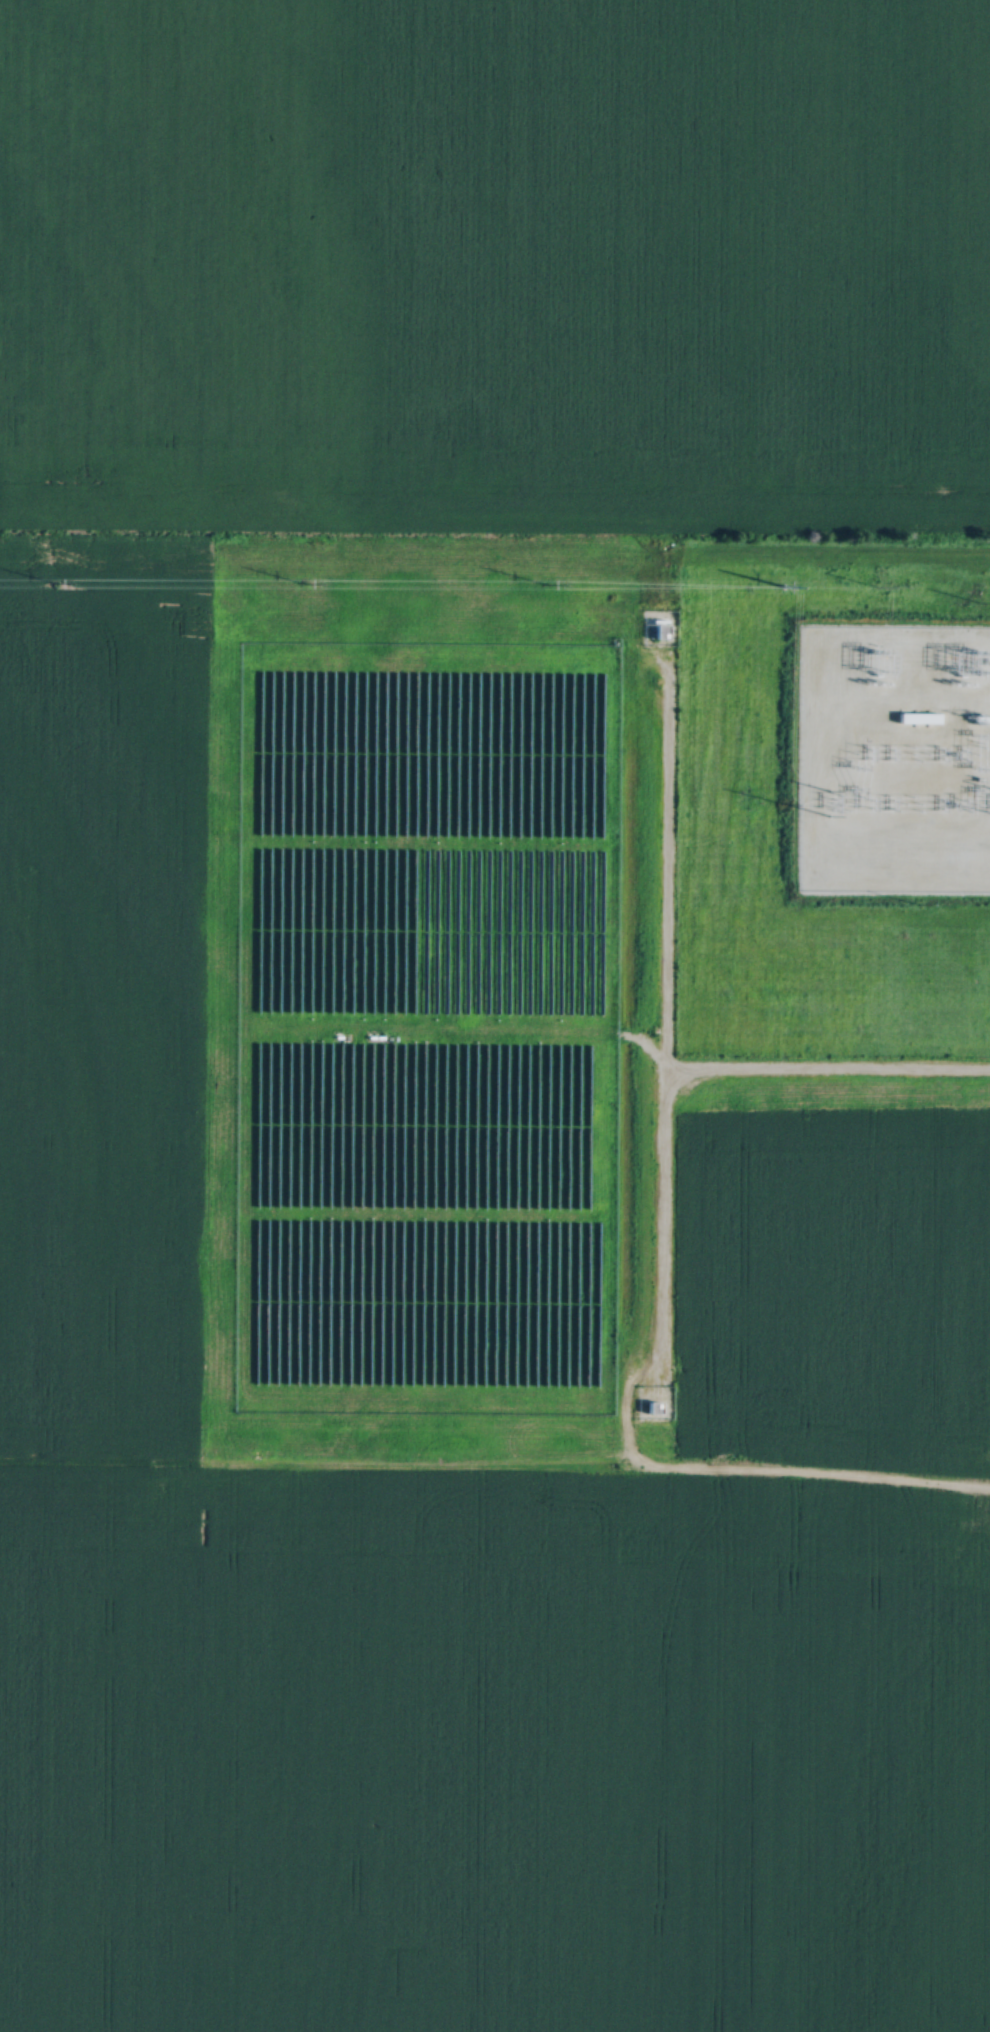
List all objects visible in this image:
power substation: (894, 756)
crop: (99, 822)
solar farm: (425, 1033)
road: (665, 1047)
road: (828, 1071)
road: (495, 1466)

